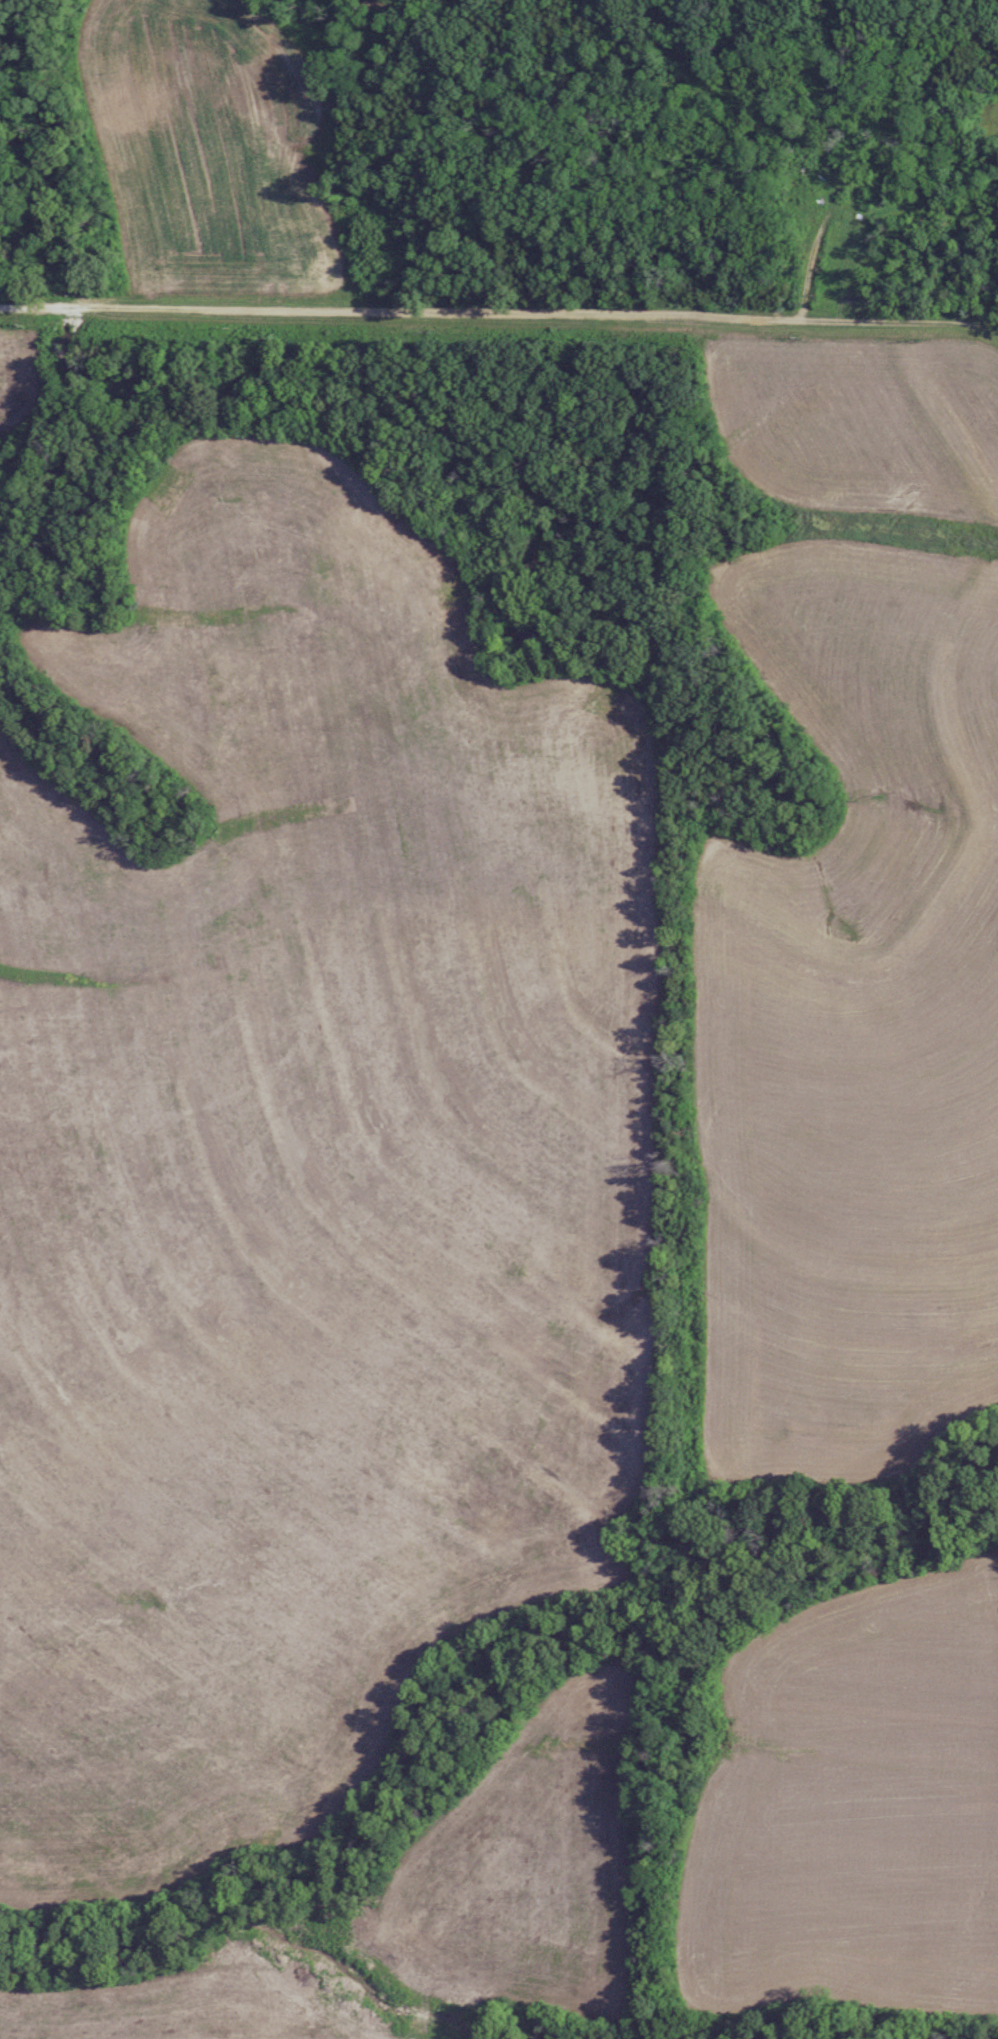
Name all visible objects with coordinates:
road: (476, 312)

